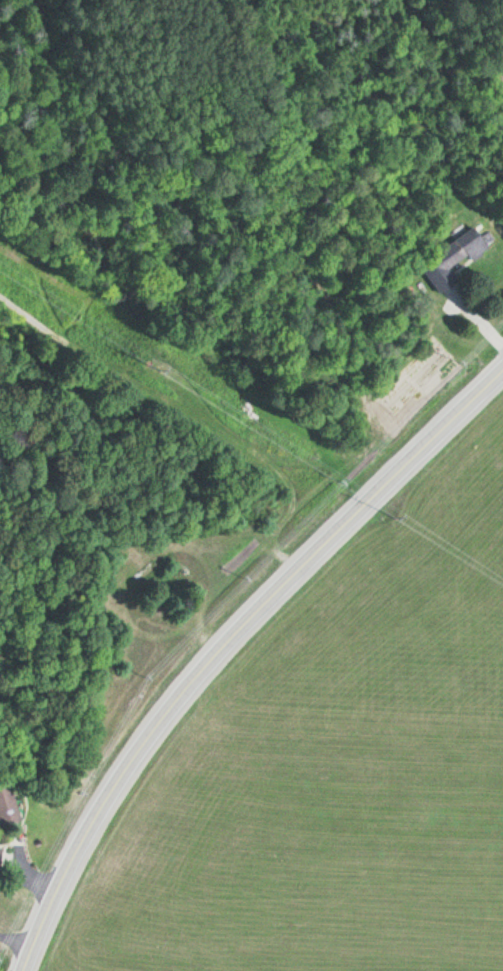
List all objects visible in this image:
building: (449, 259)
road: (226, 642)
building: (6, 804)

